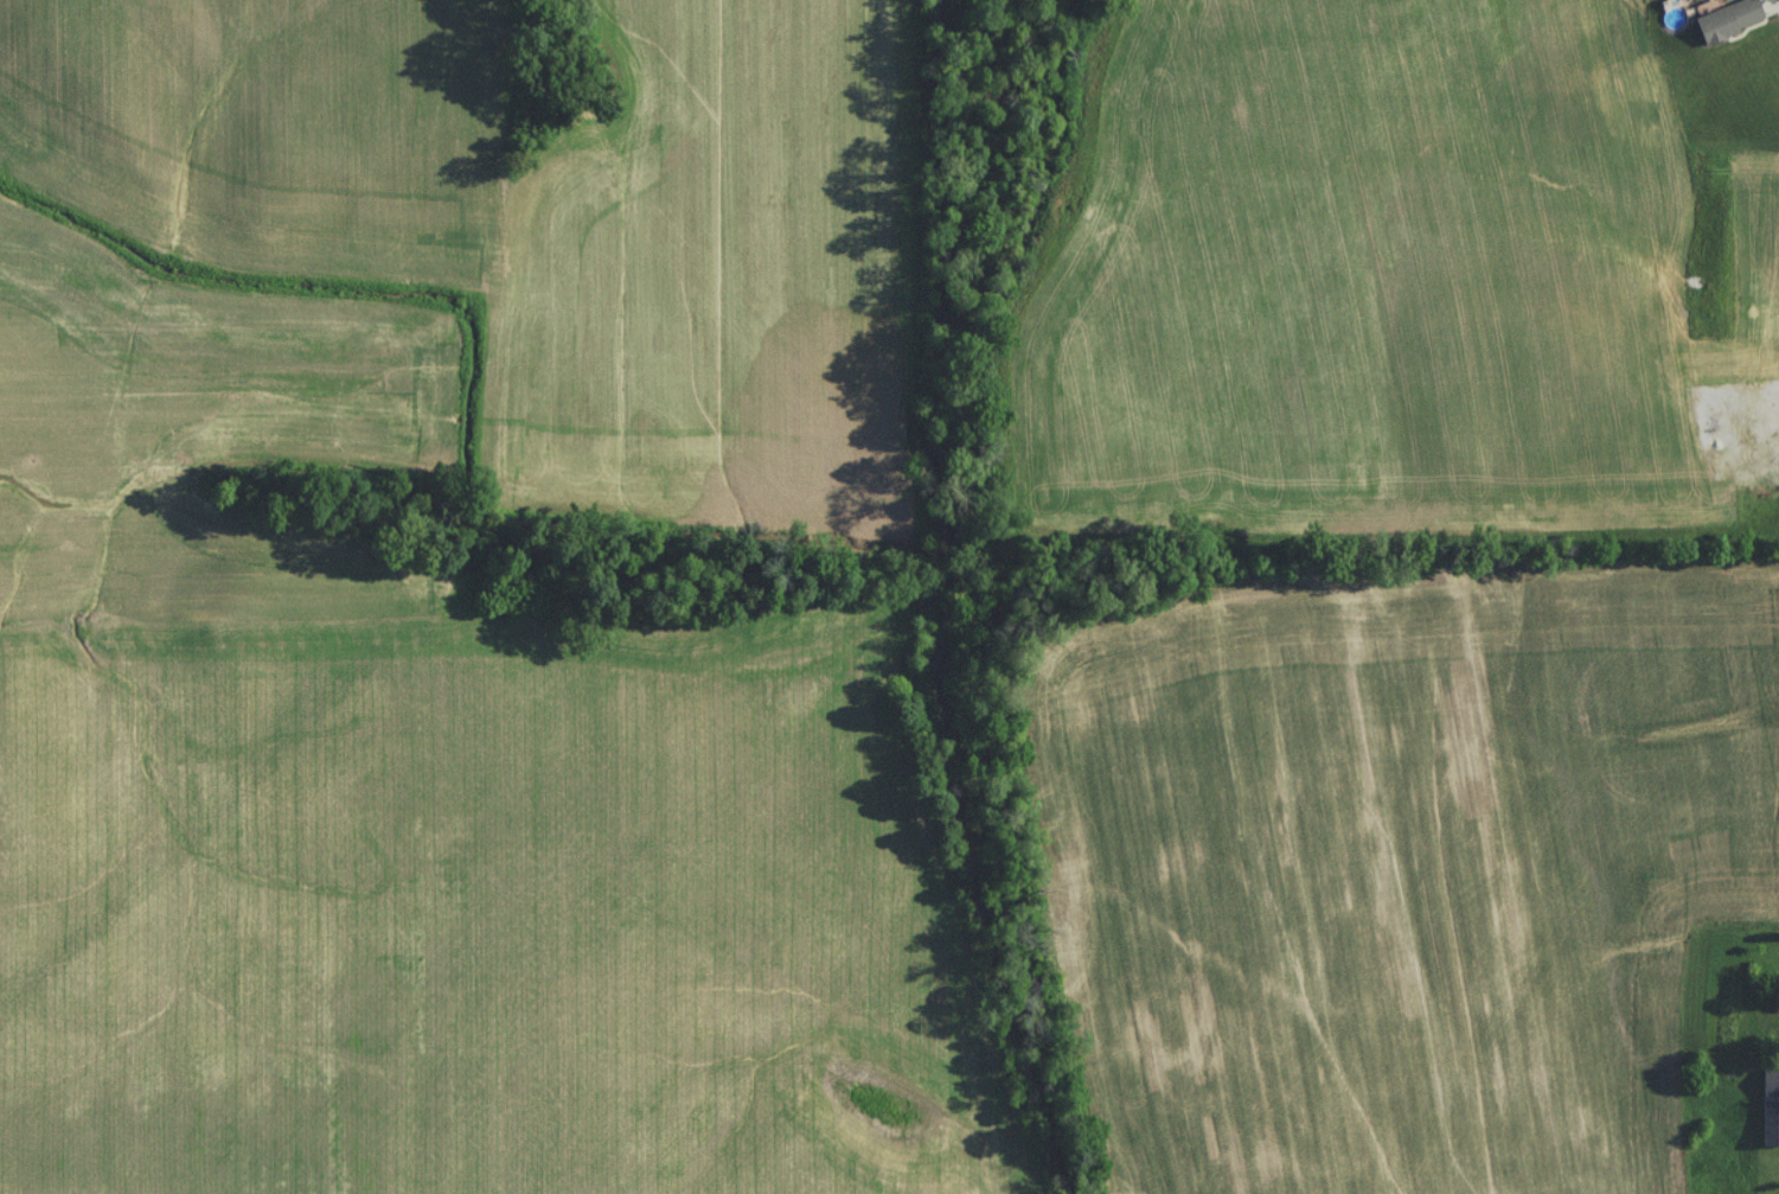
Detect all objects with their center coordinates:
building: (1777, 1028)

